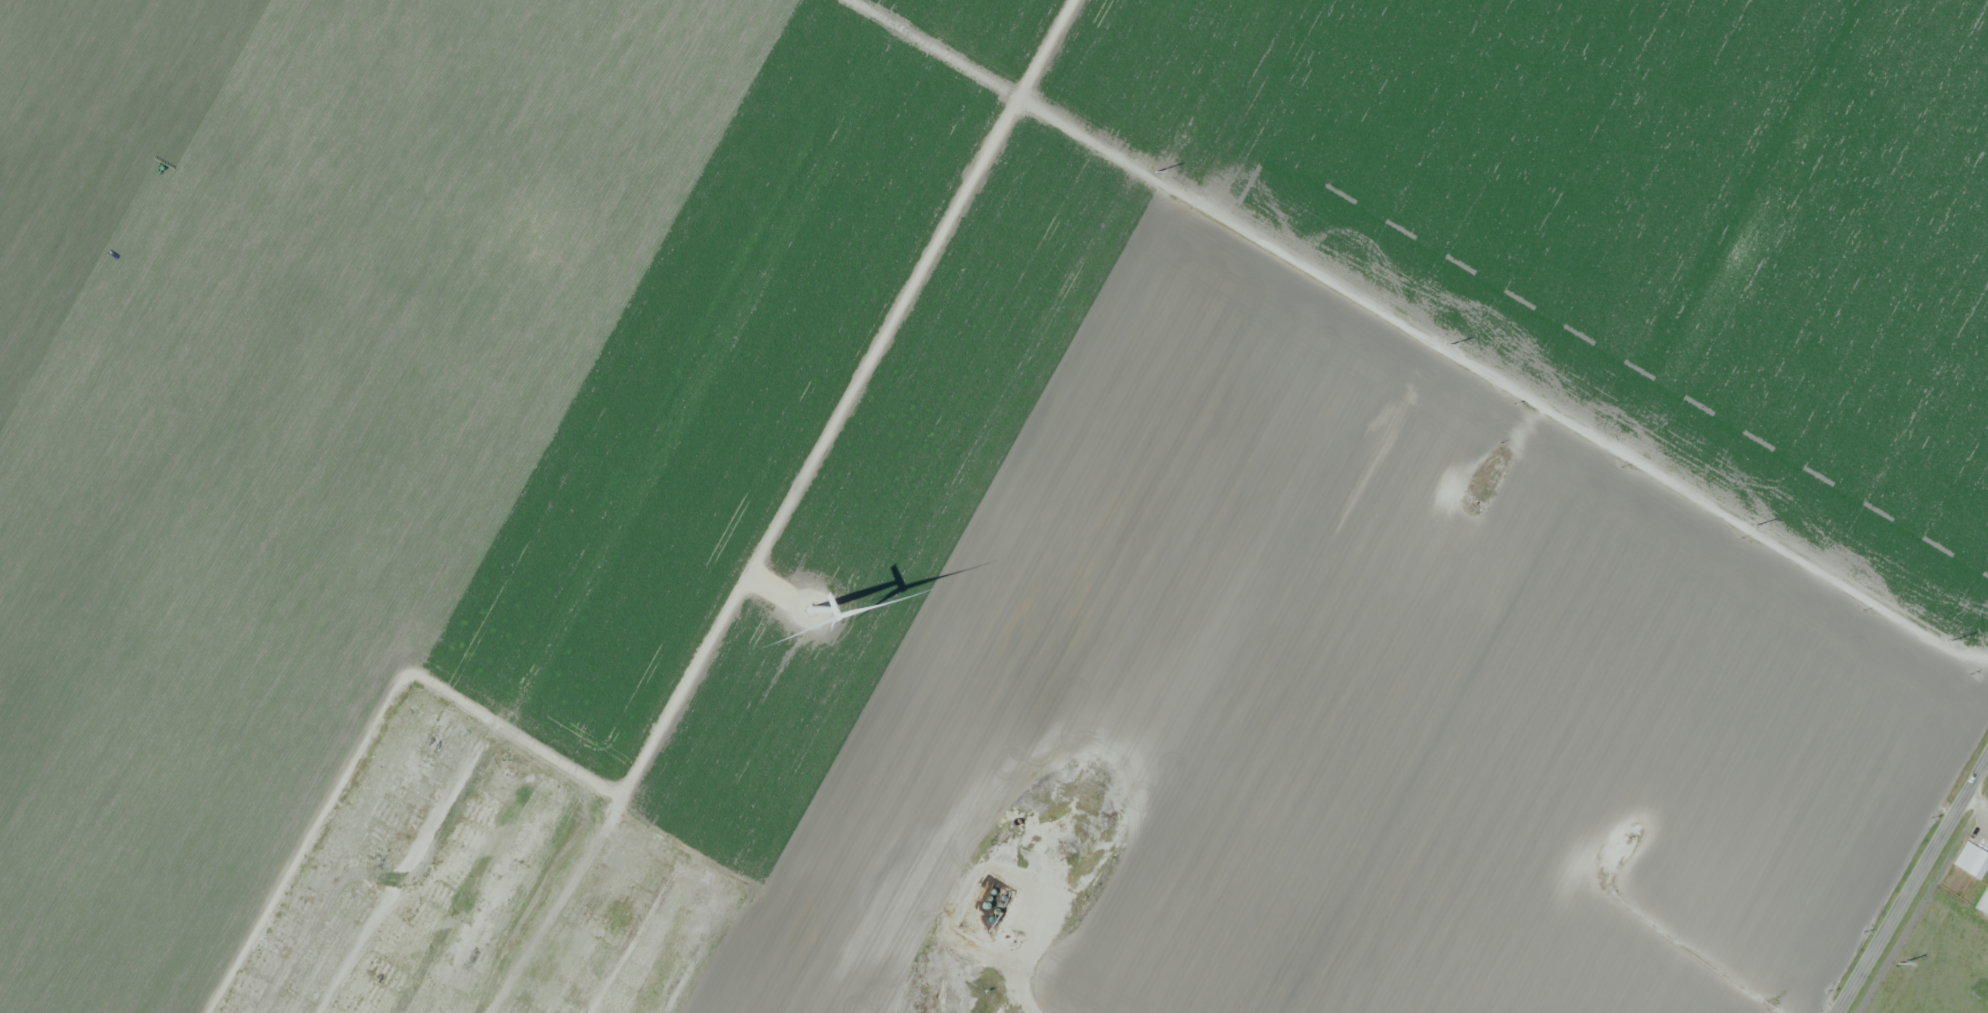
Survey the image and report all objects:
power tower: (1156, 170)
power tower: (1447, 342)
road: (1501, 380)
power tower: (1756, 523)
road: (764, 589)
wind turbine: (829, 606)
power tower: (1950, 639)
road: (680, 677)
building: (1971, 861)
road: (1912, 884)
building: (1983, 904)
power tower: (1898, 961)
road: (1022, 965)

